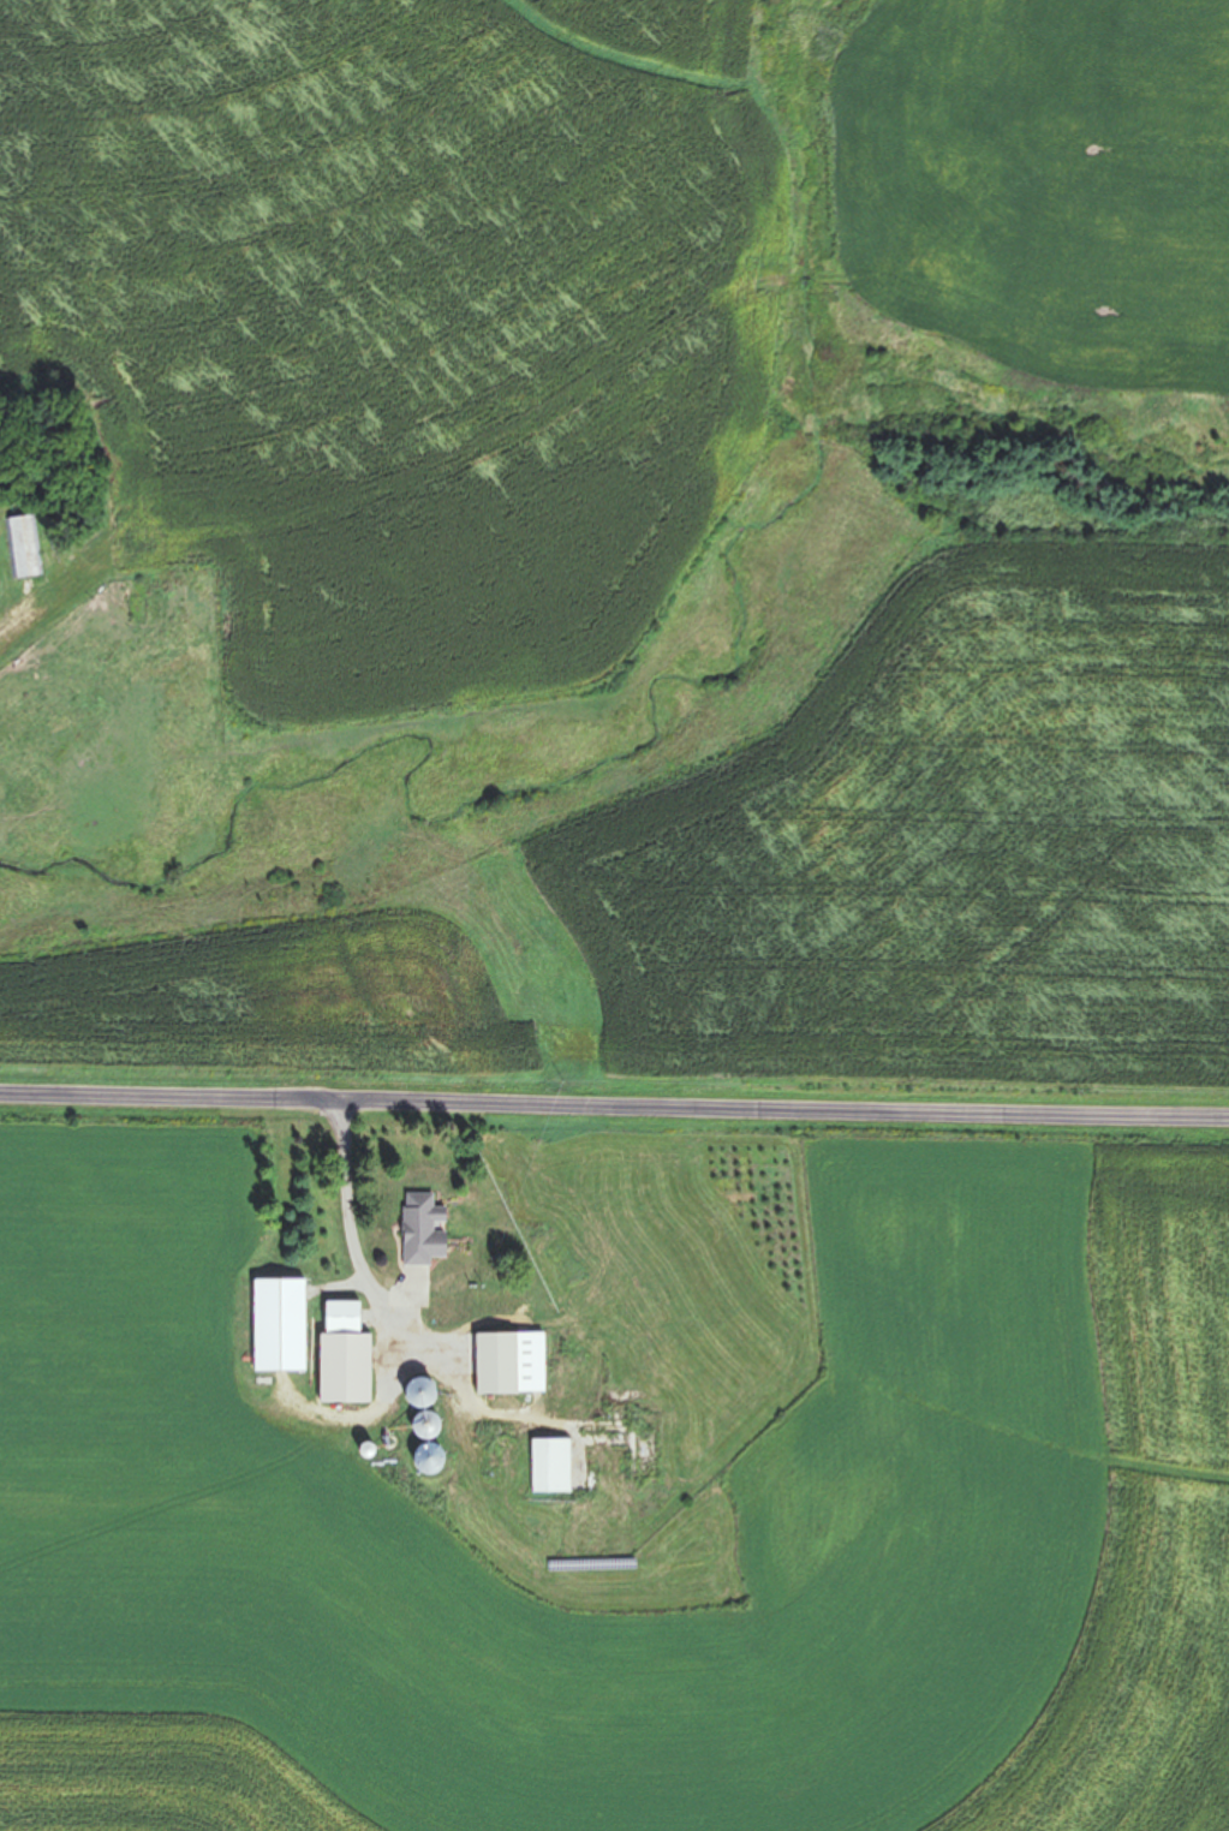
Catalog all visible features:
building: (25, 545)
road: (614, 1098)
building: (422, 1229)
building: (279, 1324)
building: (347, 1355)
building: (508, 1362)
building: (419, 1407)
building: (426, 1457)
building: (550, 1465)

